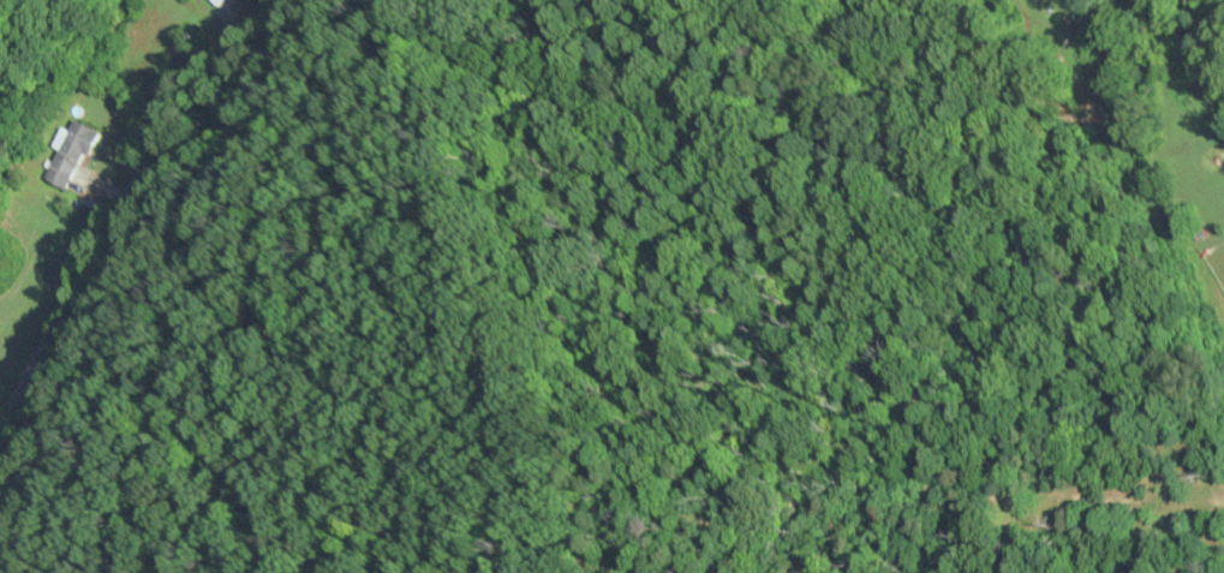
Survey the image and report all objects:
building: (222, 2)
building: (70, 154)
road: (117, 205)

